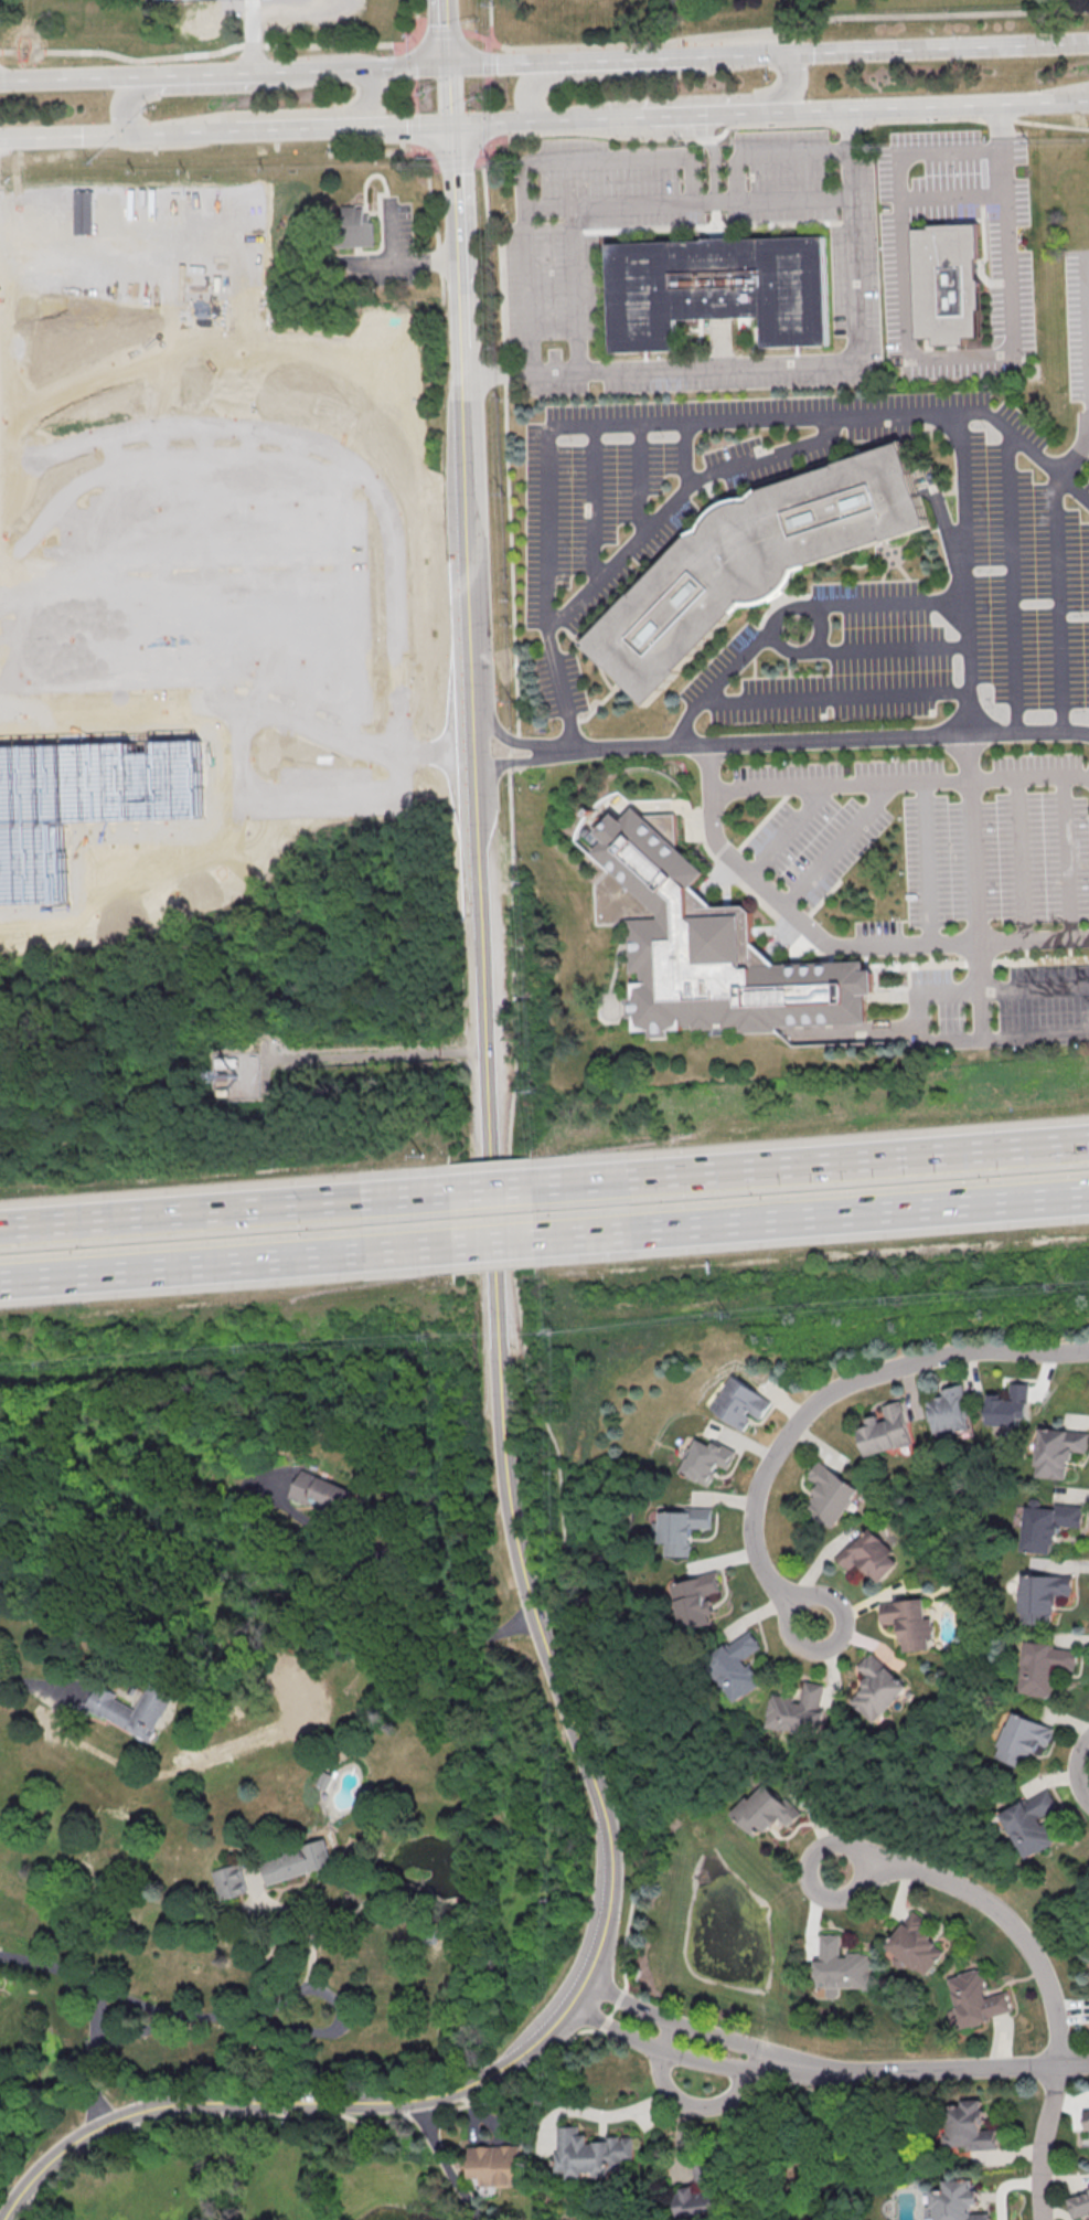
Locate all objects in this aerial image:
power substation: (170, 0)
road: (416, 15)
road: (492, 21)
road: (772, 26)
road: (441, 31)
road: (449, 31)
road: (257, 34)
road: (344, 44)
road: (253, 45)
road: (412, 45)
road: (928, 45)
road: (488, 46)
traffic signals: (767, 51)
road: (662, 55)
road: (124, 56)
road: (503, 62)
traffic signals: (450, 64)
road: (404, 65)
road: (324, 68)
road: (229, 71)
road: (85, 76)
road: (792, 81)
road: (531, 85)
road: (128, 94)
road: (451, 95)
road: (414, 96)
road: (489, 98)
road: (1087, 99)
road: (369, 103)
road: (923, 105)
road: (694, 114)
road: (602, 118)
road: (557, 120)
road: (493, 123)
traffic signals: (453, 126)
road: (392, 127)
road: (772, 127)
road: (234, 129)
traffic signals: (138, 134)
road: (68, 135)
road: (414, 147)
road: (772, 155)
road: (604, 158)
road: (455, 160)
road: (222, 163)
road: (951, 196)
road: (609, 201)
building: (84, 212)
building: (352, 230)
road: (396, 262)
road: (364, 263)
parking lot: (551, 284)
building: (949, 285)
road: (570, 286)
building: (718, 290)
parking lot: (1010, 296)
parking lot: (1075, 320)
road: (1086, 320)
road: (930, 358)
road: (782, 362)
road: (463, 416)
road: (671, 421)
road: (322, 449)
road: (114, 452)
road: (684, 453)
road: (639, 477)
road: (423, 486)
road: (674, 495)
road: (594, 501)
road: (42, 525)
parking lot: (592, 543)
road: (205, 562)
building: (752, 562)
road: (158, 564)
road: (253, 566)
road: (1058, 572)
road: (299, 581)
road: (117, 584)
road: (1013, 584)
road: (70, 599)
road: (346, 601)
road: (882, 604)
road: (799, 606)
road: (25, 635)
road: (884, 648)
road: (735, 662)
road: (832, 697)
road: (204, 700)
road: (682, 721)
road: (968, 724)
road: (474, 736)
road: (831, 740)
road: (517, 743)
road: (437, 754)
road: (525, 761)
road: (708, 766)
road: (899, 779)
building: (89, 809)
parking lot: (825, 815)
road: (788, 827)
parking lot: (1042, 838)
road: (834, 841)
road: (1065, 856)
road: (1019, 857)
road: (928, 861)
parking lot: (897, 935)
road: (855, 946)
building: (705, 949)
parking lot: (999, 1008)
road: (918, 1015)
road: (485, 1030)
road: (377, 1056)
road: (811, 1164)
road: (492, 1189)
road: (225, 1210)
road: (811, 1217)
road: (494, 1243)
road: (226, 1264)
power tower: (558, 1332)
road: (826, 1393)
building: (738, 1403)
building: (1007, 1404)
building: (947, 1410)
road: (547, 1426)
building: (885, 1428)
building: (1055, 1451)
building: (705, 1459)
building: (321, 1493)
building: (829, 1495)
building: (1044, 1523)
building: (681, 1528)
building: (867, 1554)
road: (403, 1587)
building: (1040, 1596)
building: (695, 1600)
building: (908, 1622)
building: (736, 1666)
building: (1042, 1667)
road: (38, 1683)
building: (875, 1687)
building: (132, 1708)
building: (796, 1711)
building: (1021, 1739)
road: (1078, 1766)
building: (762, 1809)
building: (1031, 1823)
building: (293, 1861)
building: (228, 1881)
road: (999, 1911)
road: (309, 1944)
building: (915, 1945)
road: (590, 1963)
building: (841, 1967)
building: (976, 1998)
road: (152, 2010)
road: (704, 2031)
building: (100, 2033)
road: (130, 2035)
road: (670, 2037)
road: (694, 2058)
road: (92, 2060)
road: (959, 2069)
road: (696, 2104)
building: (970, 2126)
road: (1043, 2142)
building: (595, 2154)
road: (440, 2160)
building: (497, 2164)
building: (959, 2201)
building: (1079, 2205)

